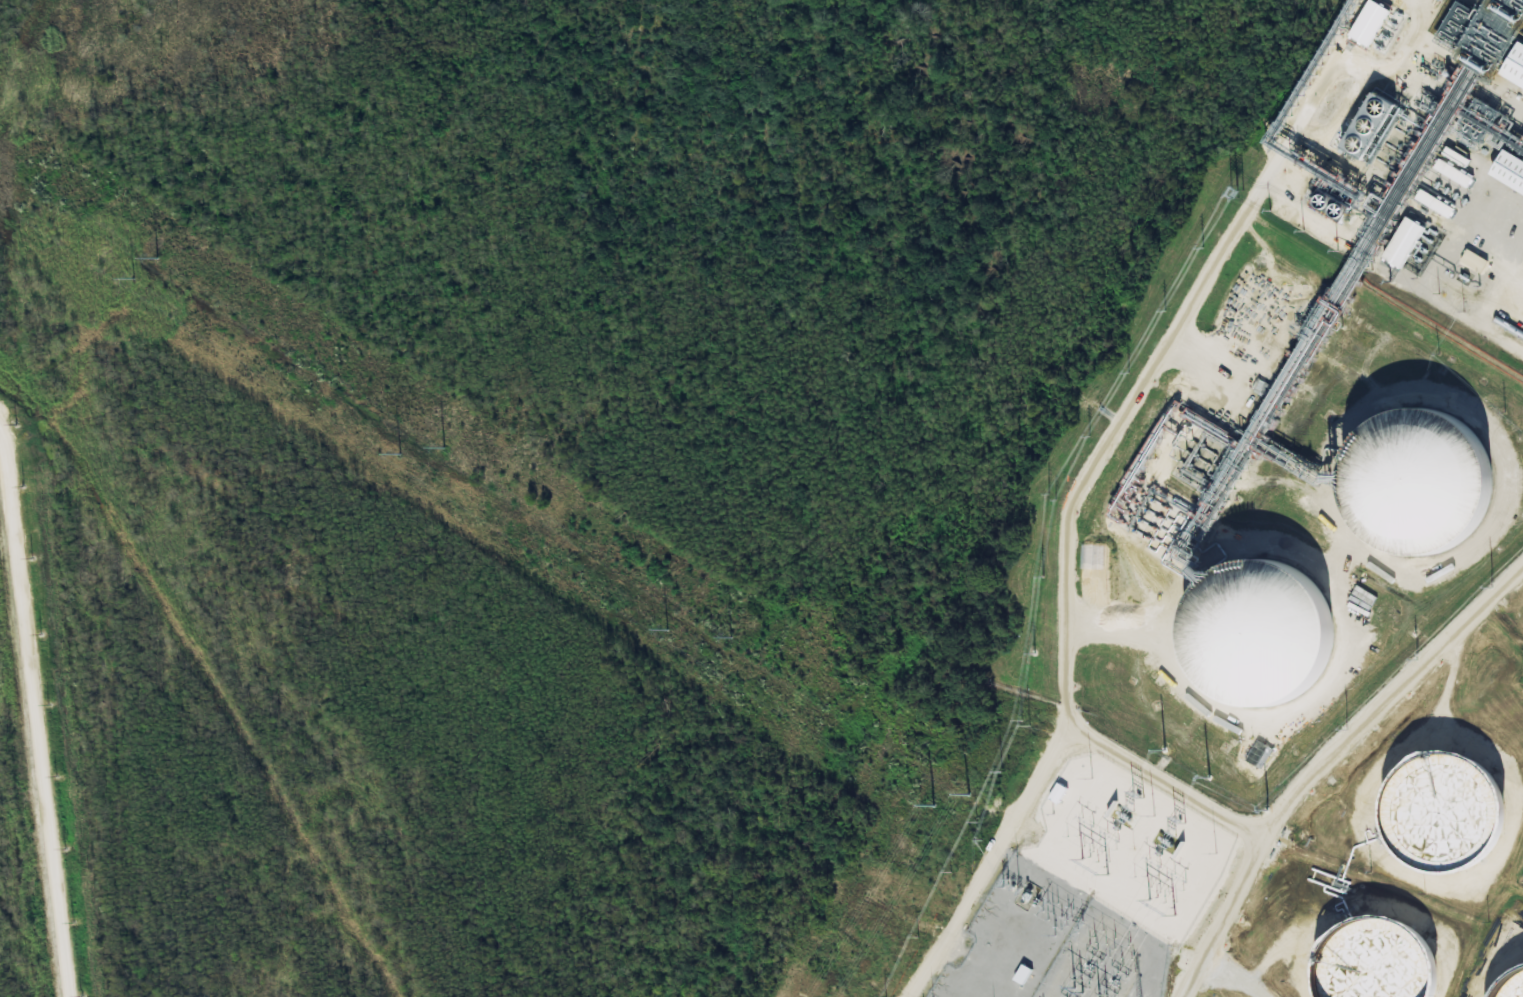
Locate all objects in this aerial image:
building: (1485, 32)
building: (1515, 71)
building: (1371, 128)
building: (1509, 175)
building: (1433, 204)
building: (1402, 245)
building: (1421, 487)
storage tank: (1421, 487)
building: (1261, 640)
storage tank: (1261, 640)
road: (33, 725)
building: (1057, 793)
building: (1442, 812)
storage tank: (1442, 812)
power substation: (1051, 944)
building: (1380, 962)
storage tank: (1380, 962)
building: (1512, 986)
storage tank: (1512, 986)

